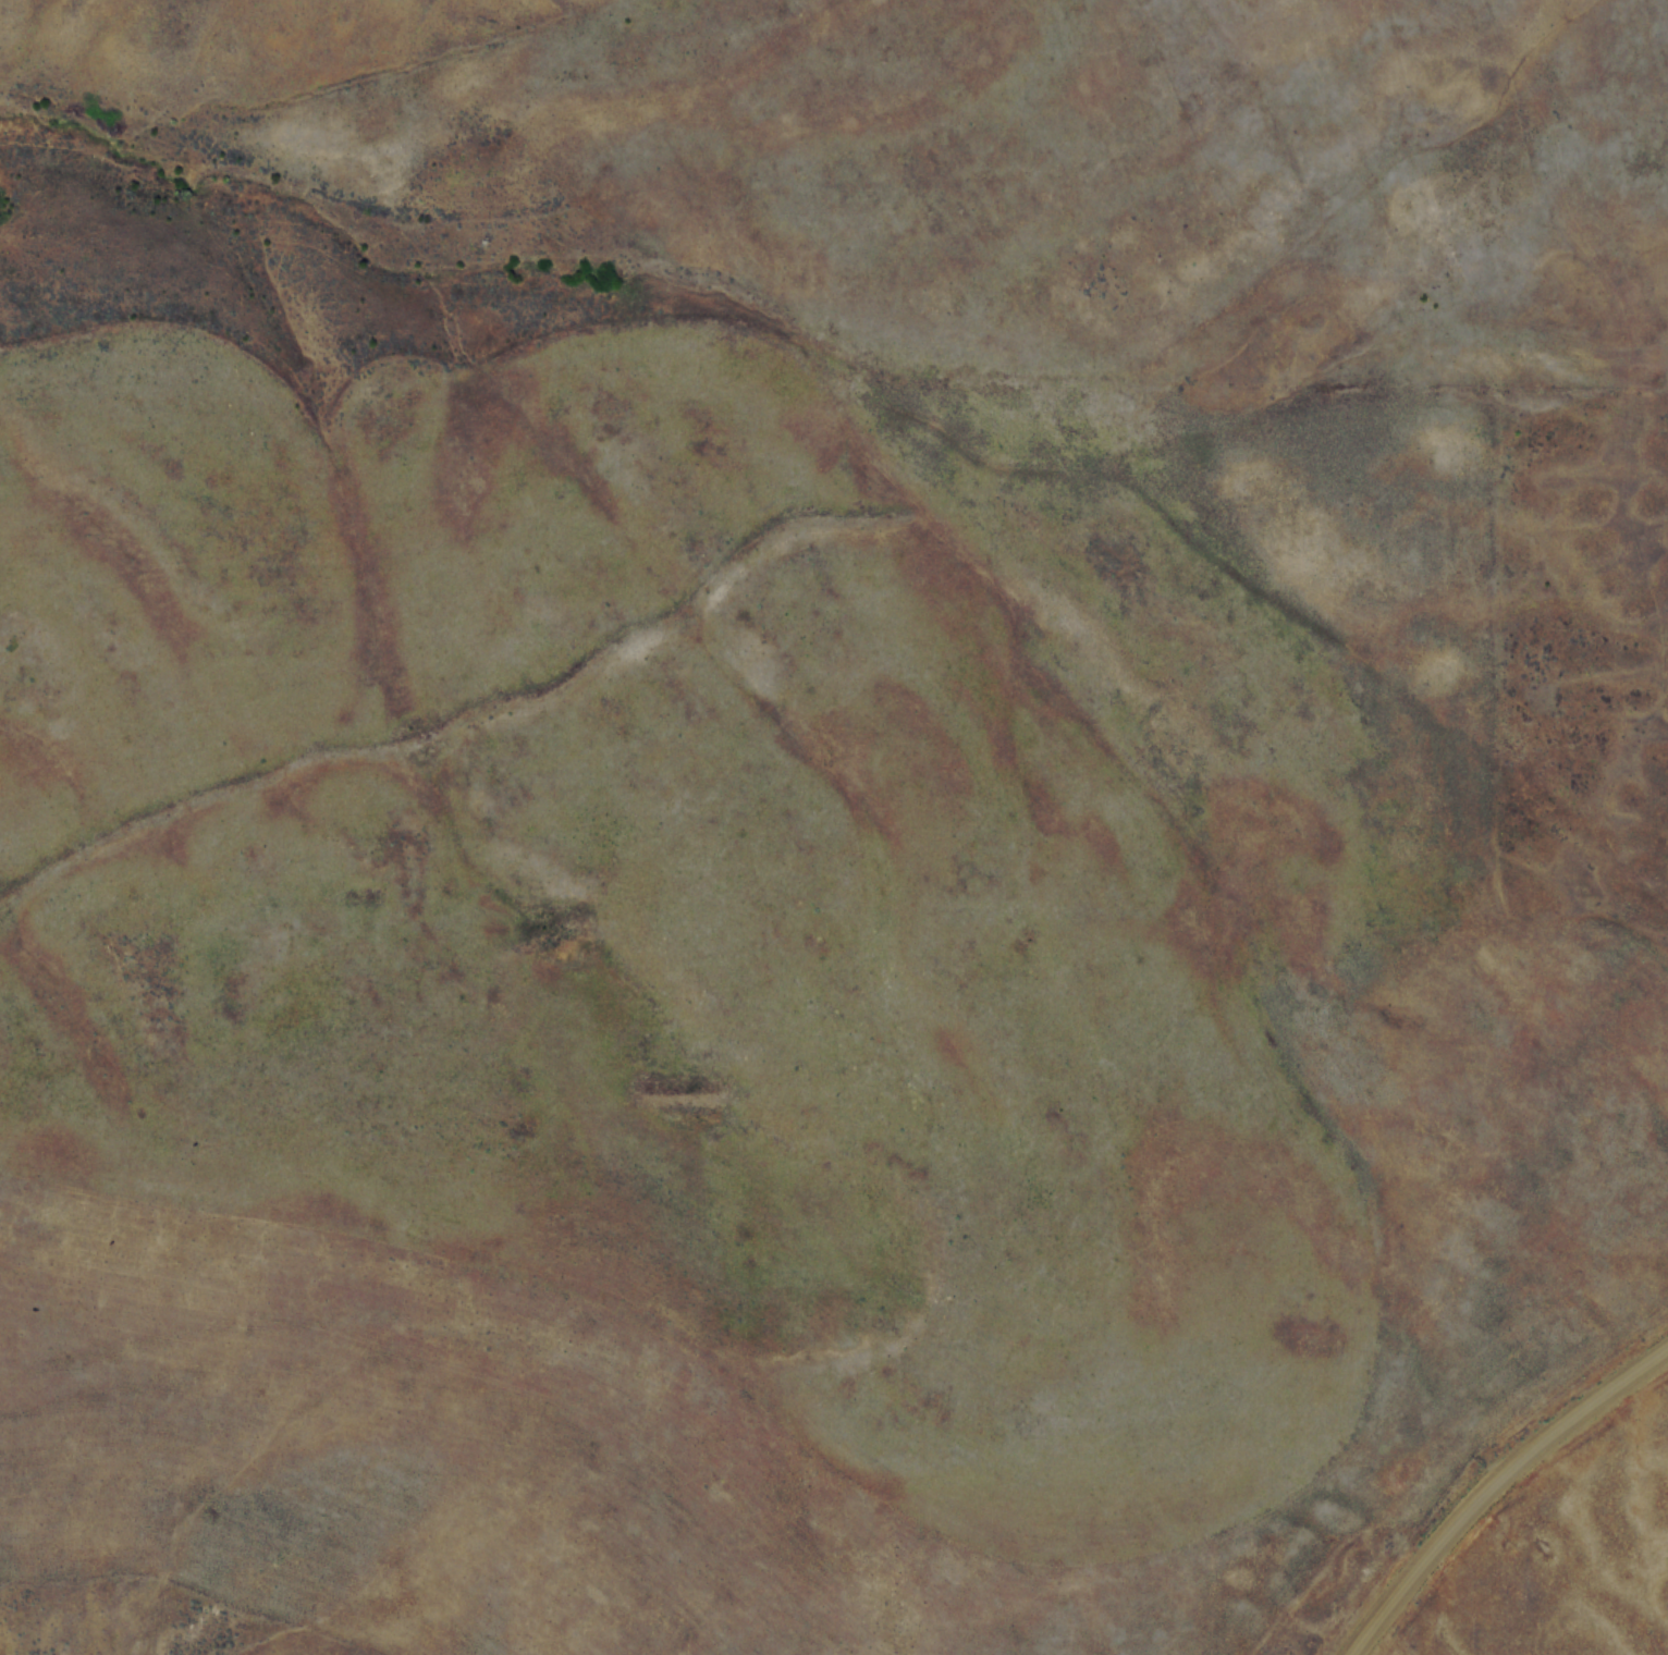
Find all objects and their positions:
road: (1492, 1483)

